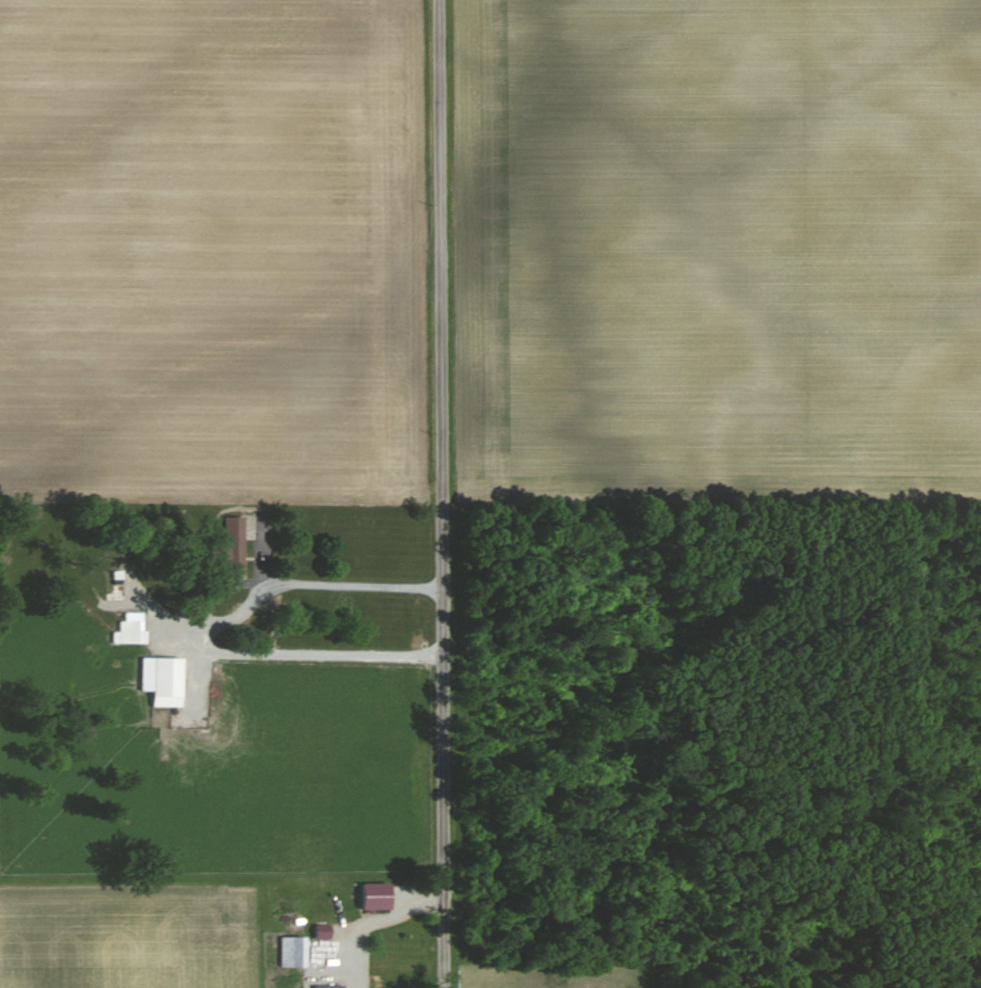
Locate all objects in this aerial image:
road: (444, 493)
building: (230, 545)
road: (205, 622)
building: (129, 631)
building: (162, 679)
building: (374, 894)
building: (322, 930)
building: (292, 950)

